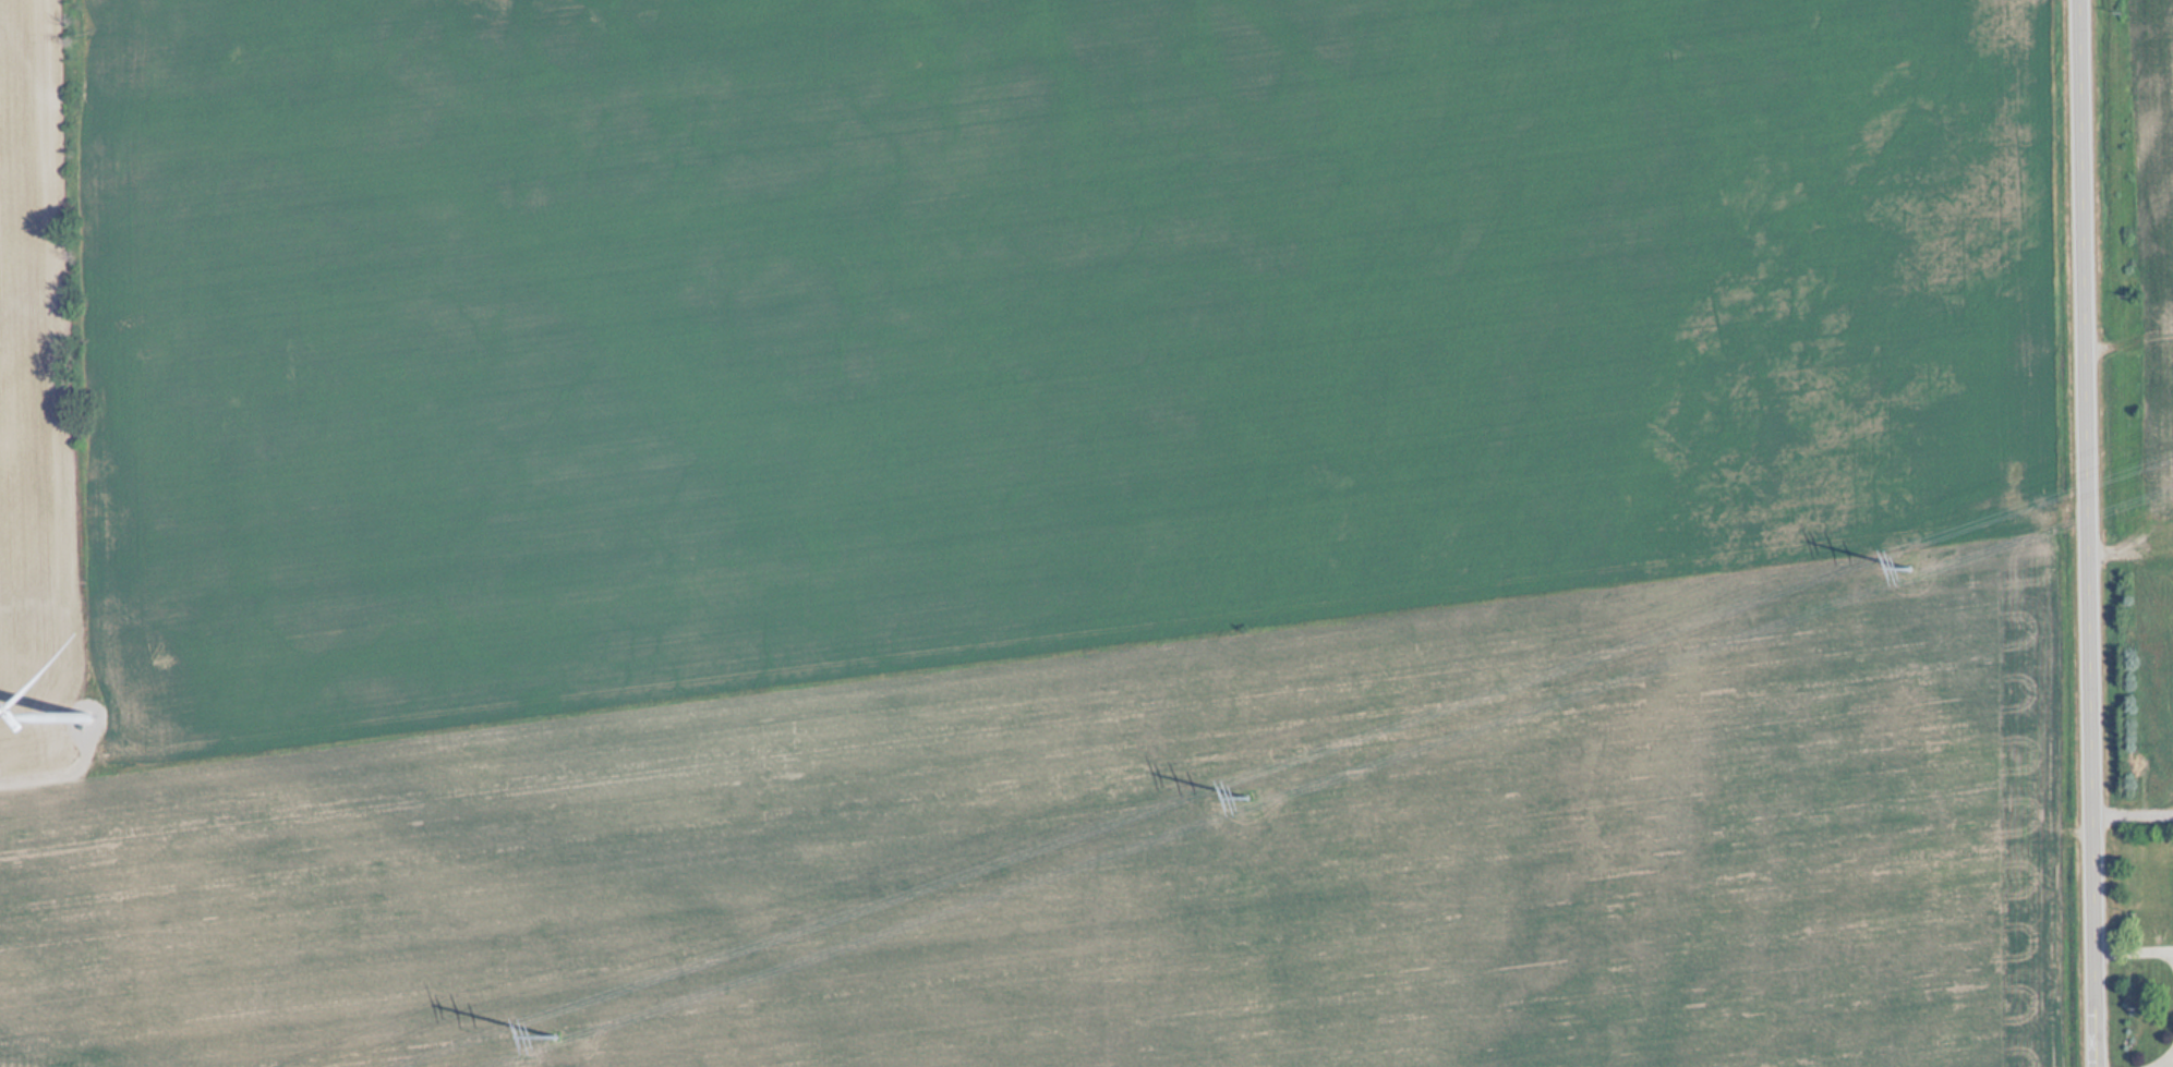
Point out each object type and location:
road: (2089, 533)
power tower: (1918, 568)
wind turbine: (86, 714)
power tower: (1256, 793)
power tower: (564, 1035)

